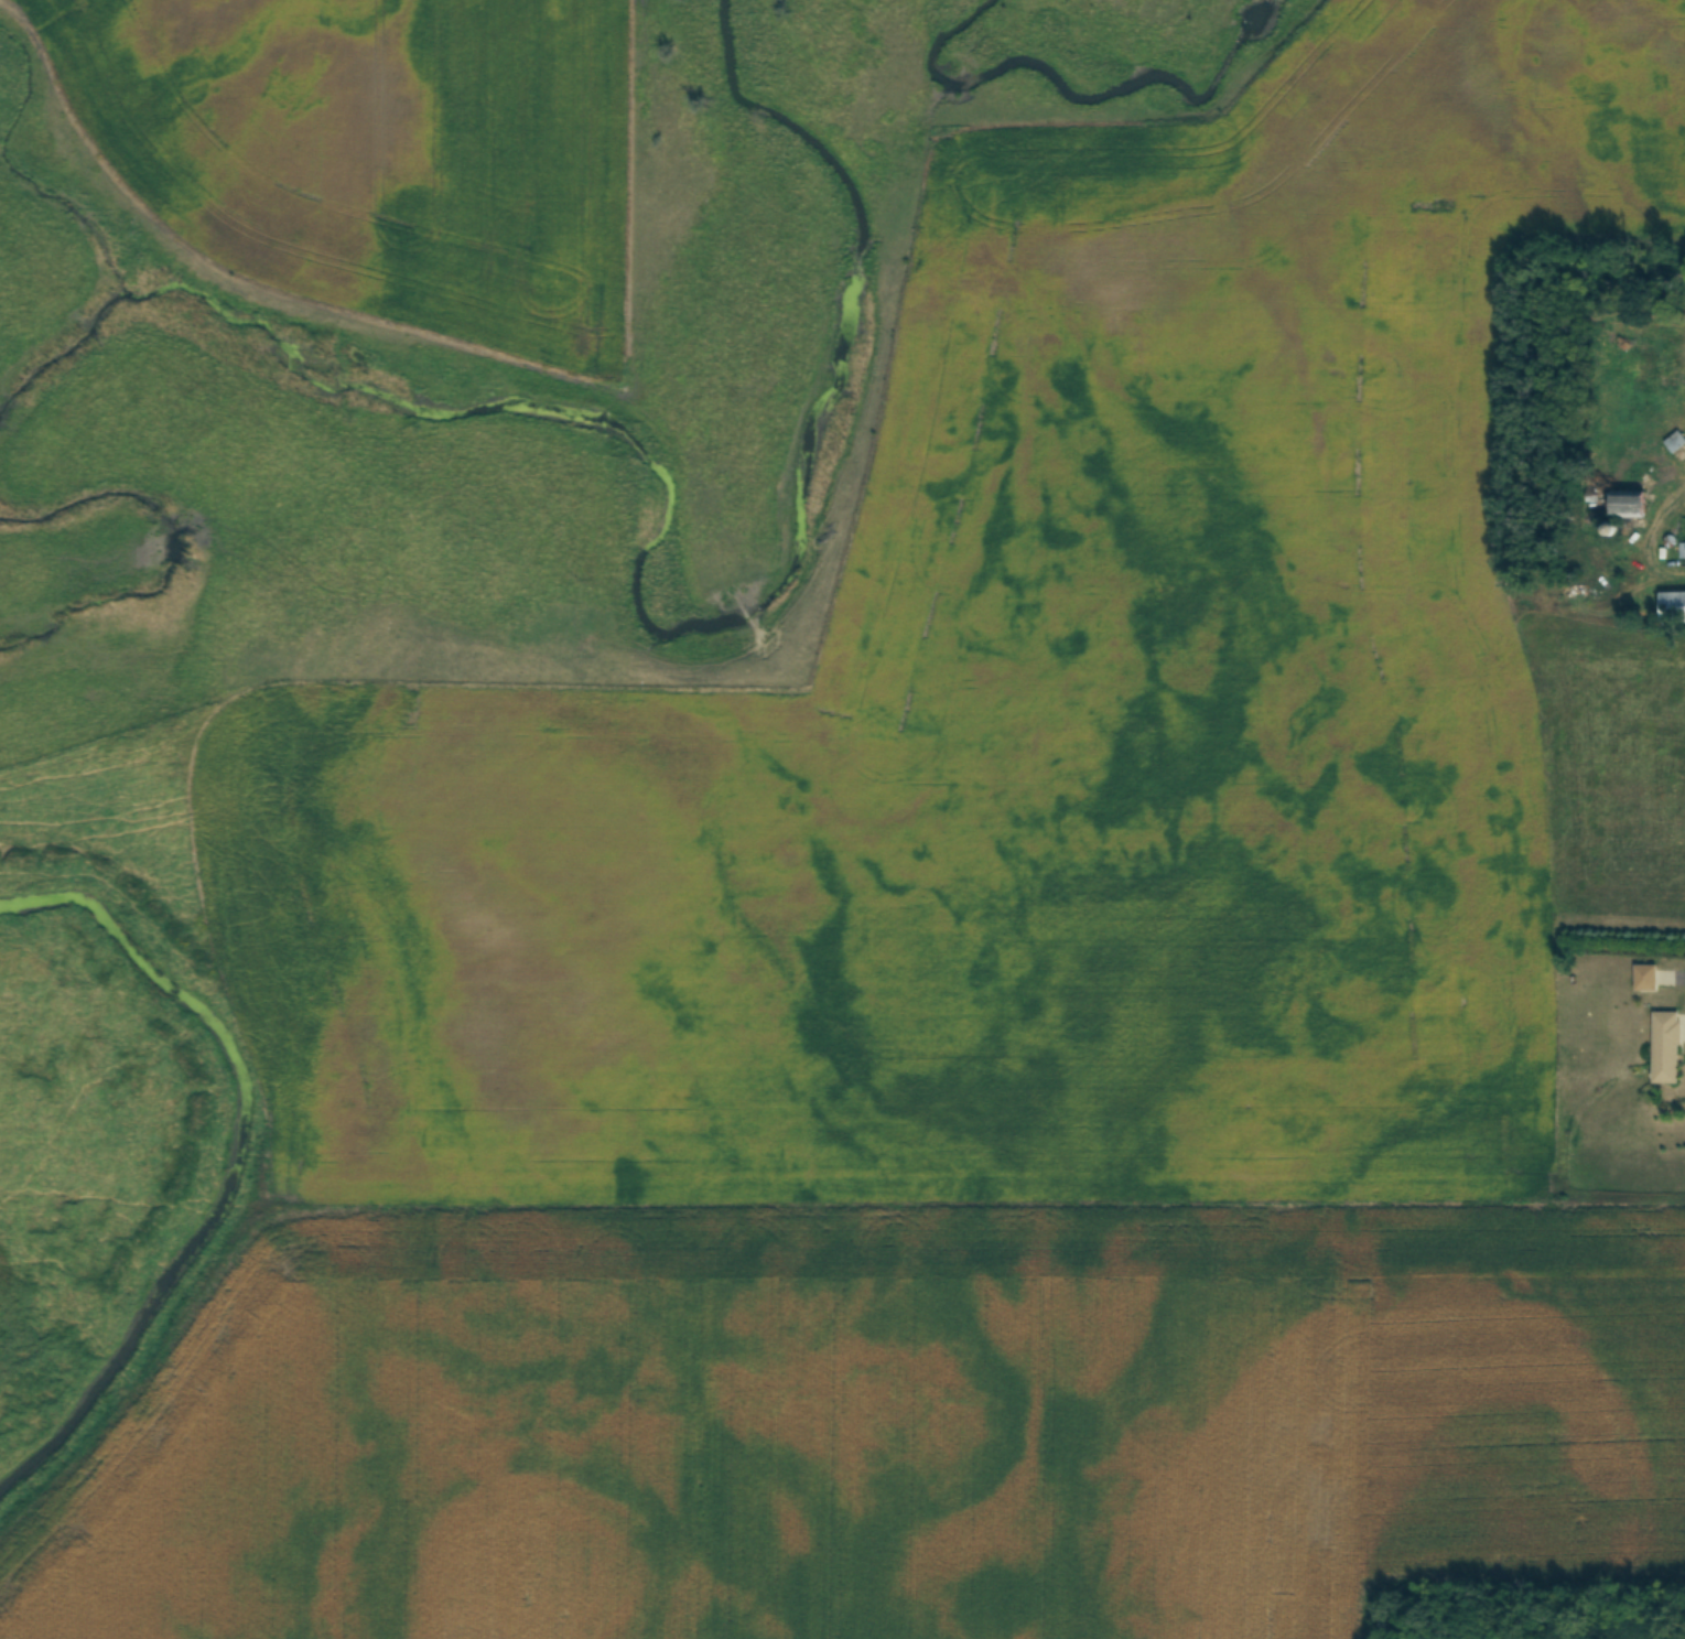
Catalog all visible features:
building: (1673, 441)
building: (1617, 508)
building: (1682, 552)
building: (1672, 606)
building: (1645, 978)
building: (1666, 1047)

